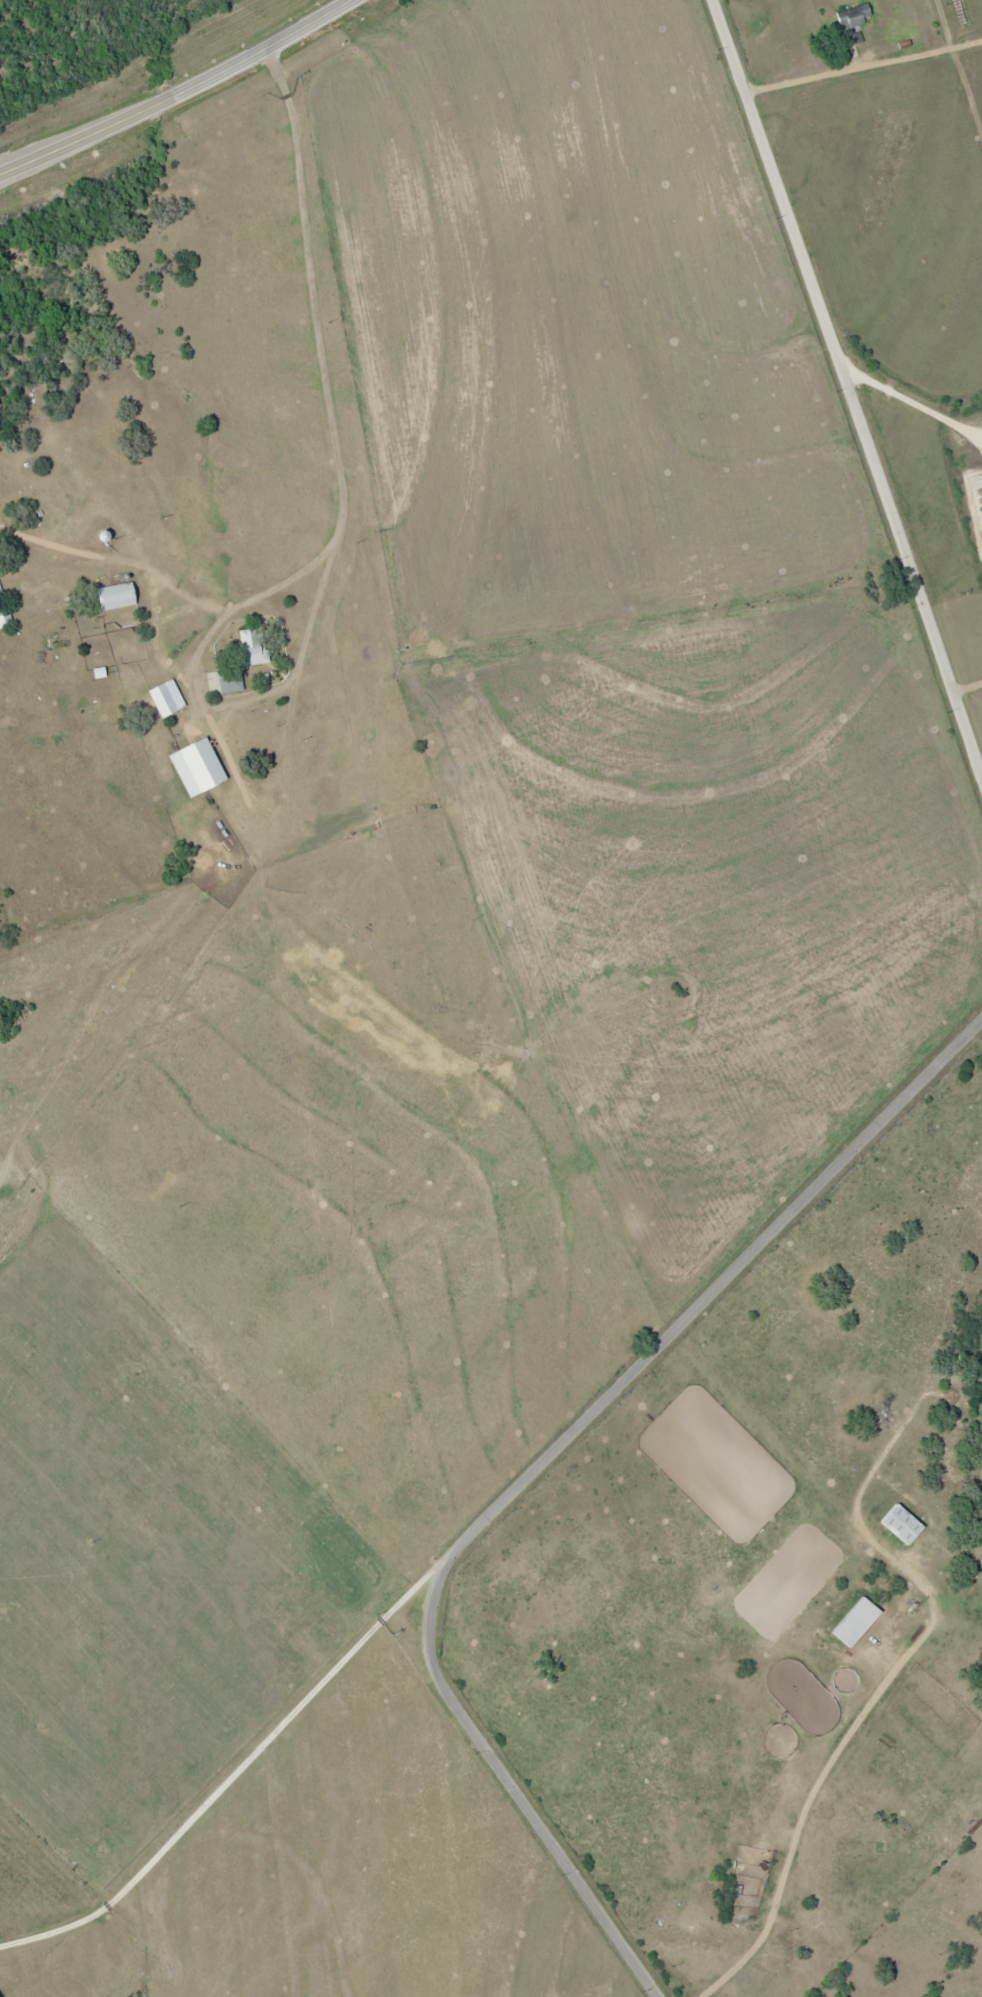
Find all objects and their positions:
building: (851, 22)
road: (175, 89)
road: (324, 363)
road: (849, 387)
building: (112, 596)
building: (4, 618)
building: (251, 647)
building: (227, 679)
building: (164, 697)
building: (193, 766)
road: (531, 1467)
building: (898, 1523)
building: (851, 1620)
road: (234, 1765)
building: (733, 1894)

